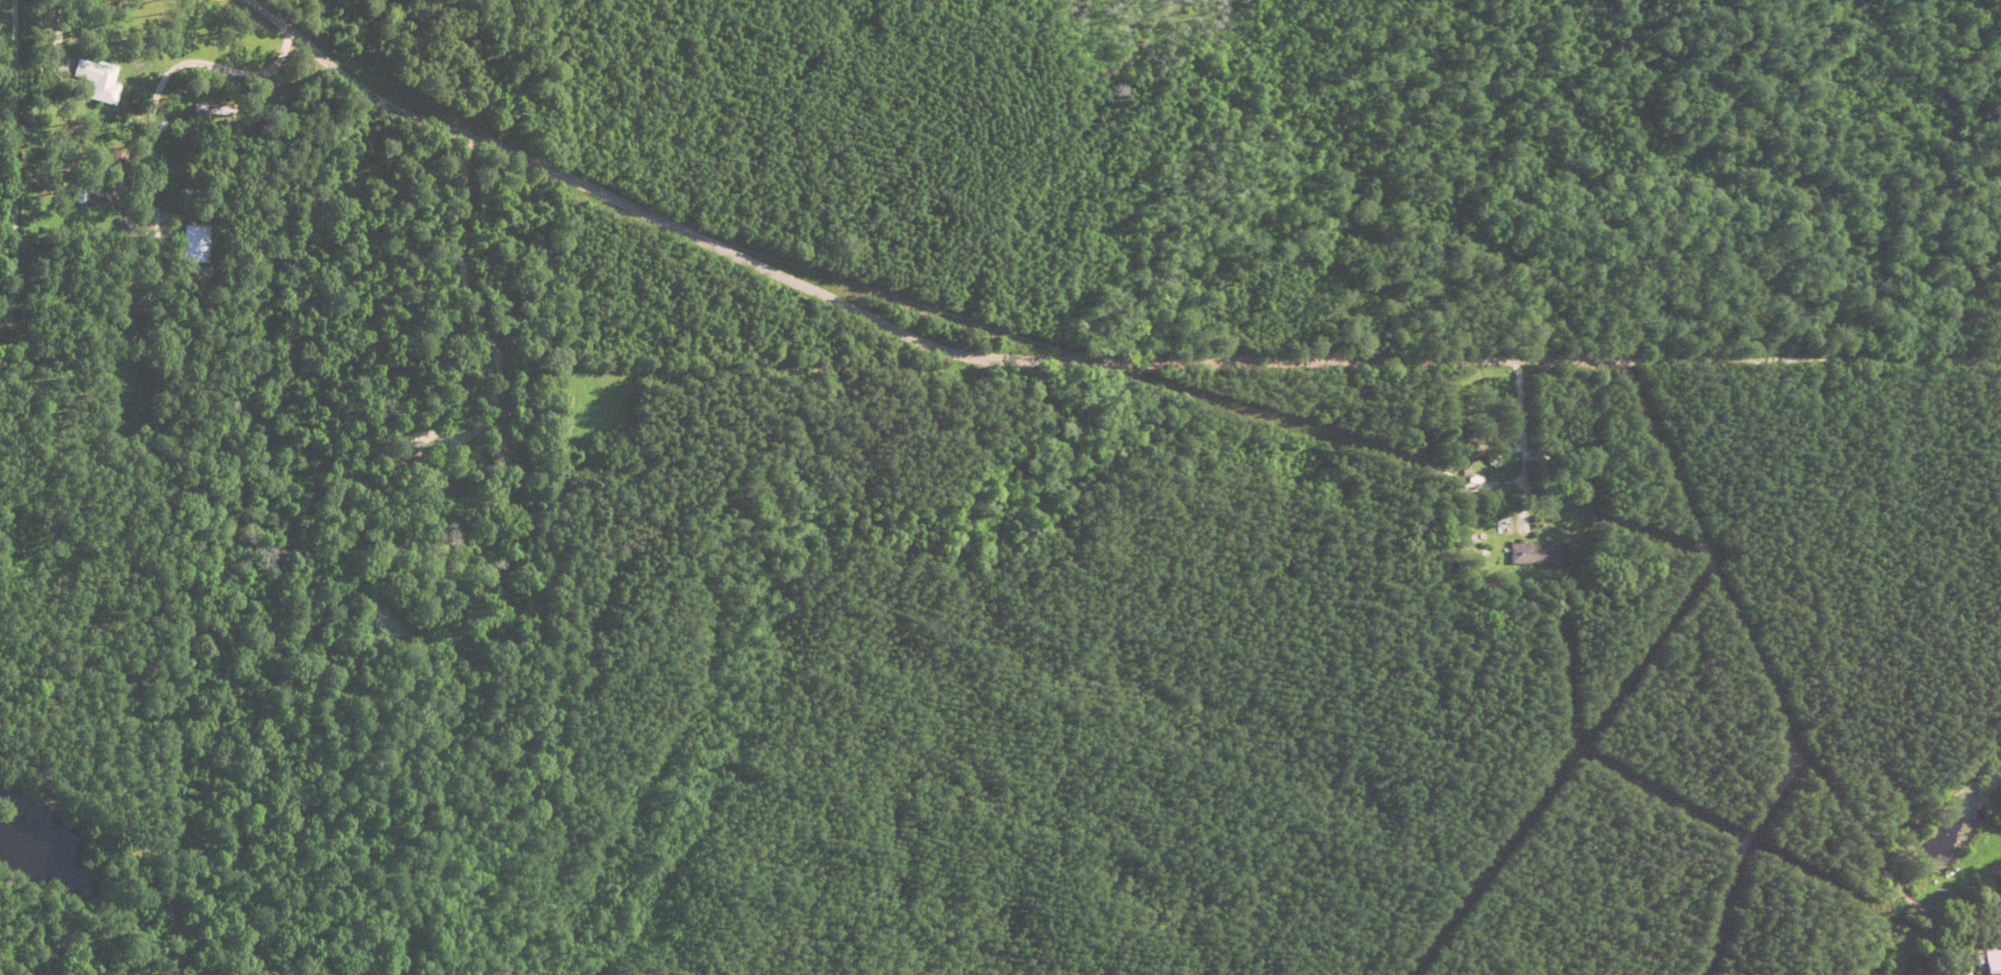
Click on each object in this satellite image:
road: (1232, 355)
road: (1795, 355)

